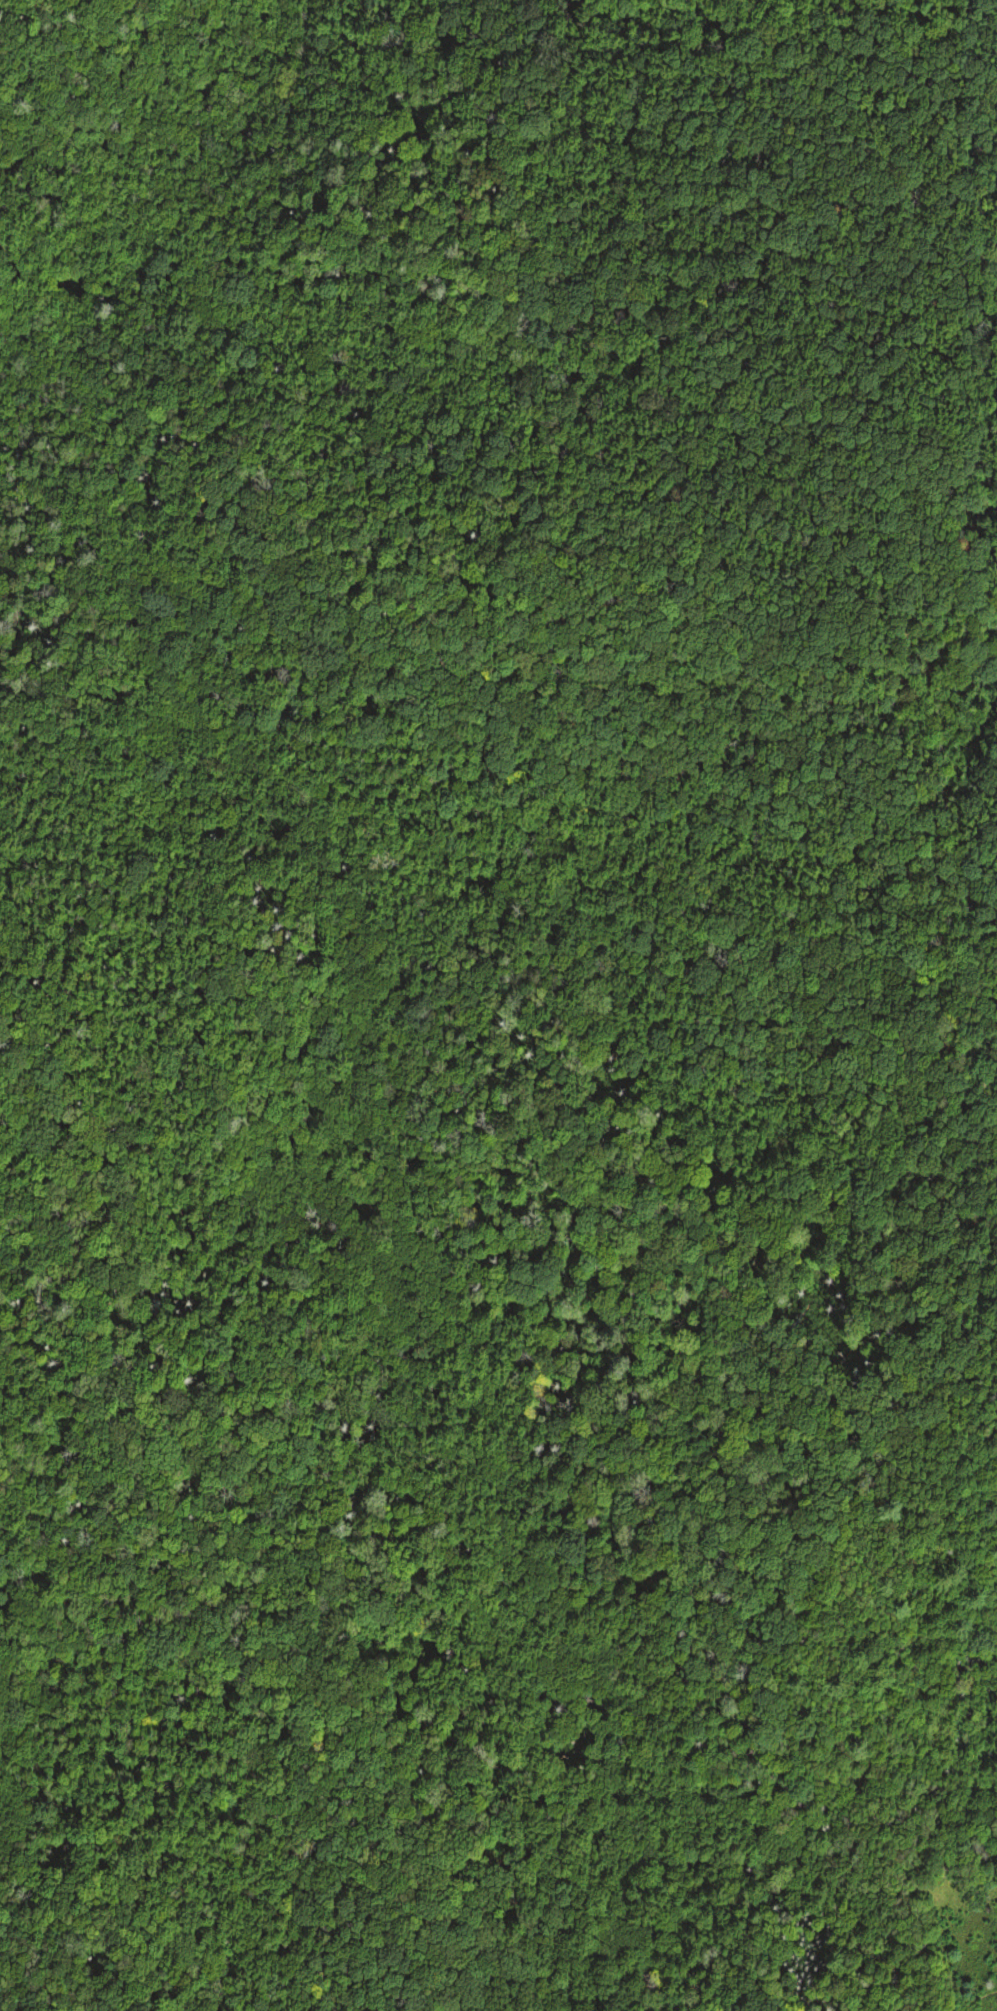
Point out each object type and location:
road: (200, 1155)
road: (634, 1918)

